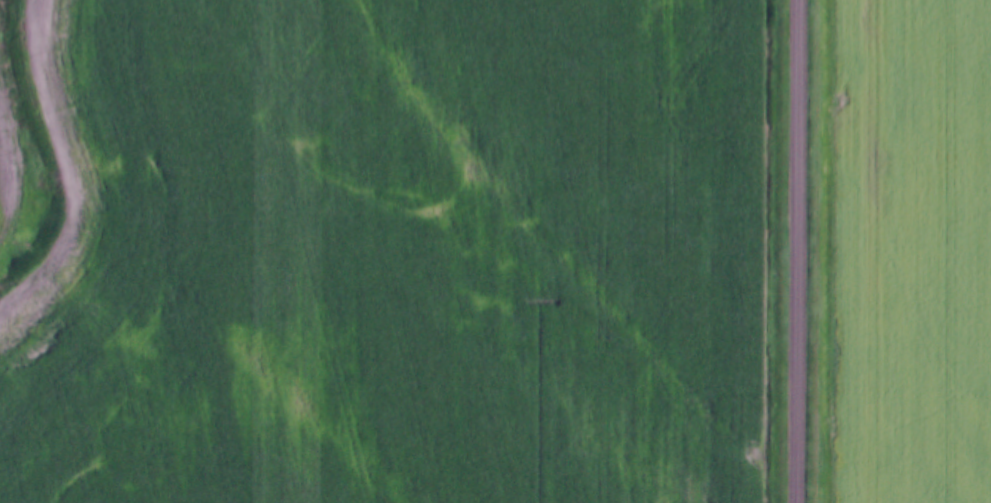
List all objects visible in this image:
crop: (409, 259)

